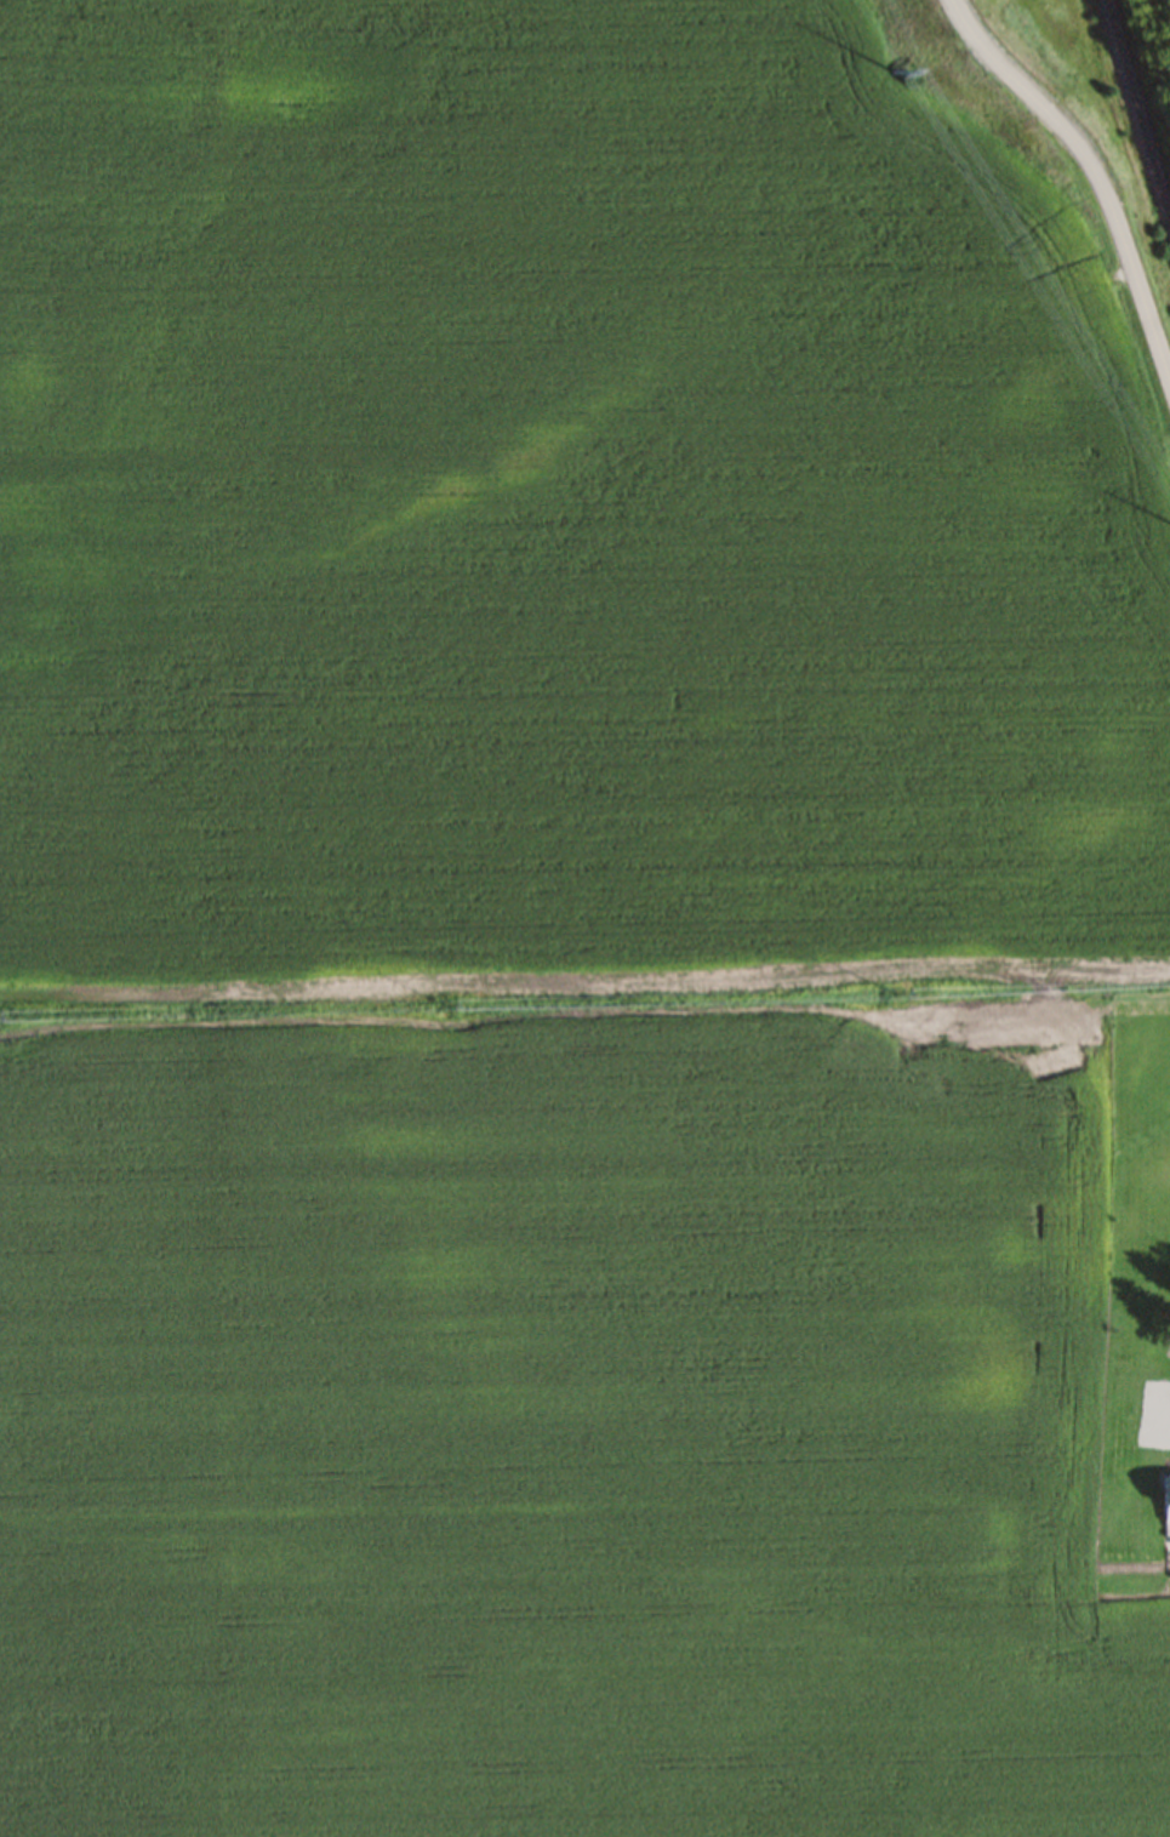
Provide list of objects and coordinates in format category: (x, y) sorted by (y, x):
power tower: (889, 79)
railway: (1135, 118)
road: (1094, 184)
building: (1165, 1505)

